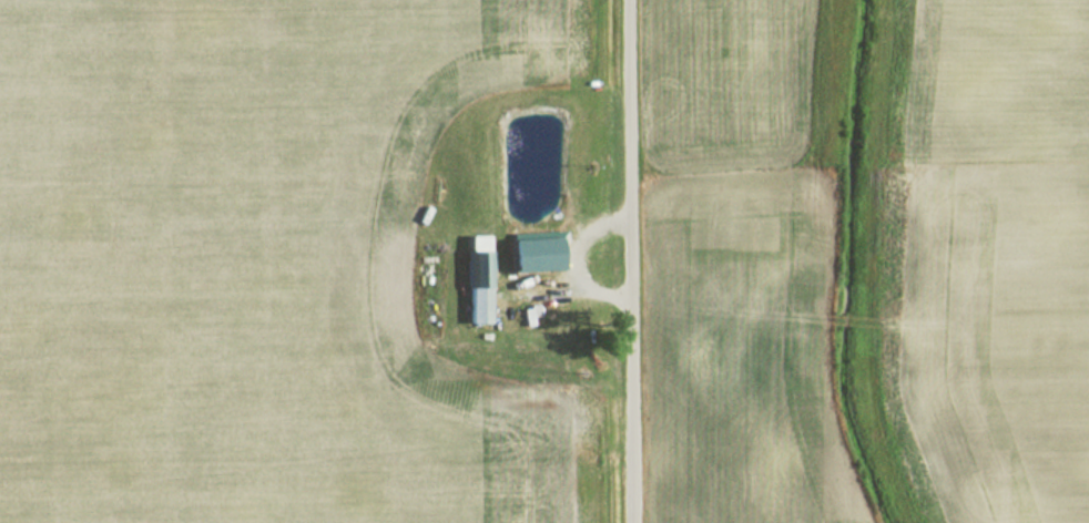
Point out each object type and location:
crop: (986, 259)
road: (628, 261)
crop: (252, 264)
crop: (754, 267)
building: (474, 279)

